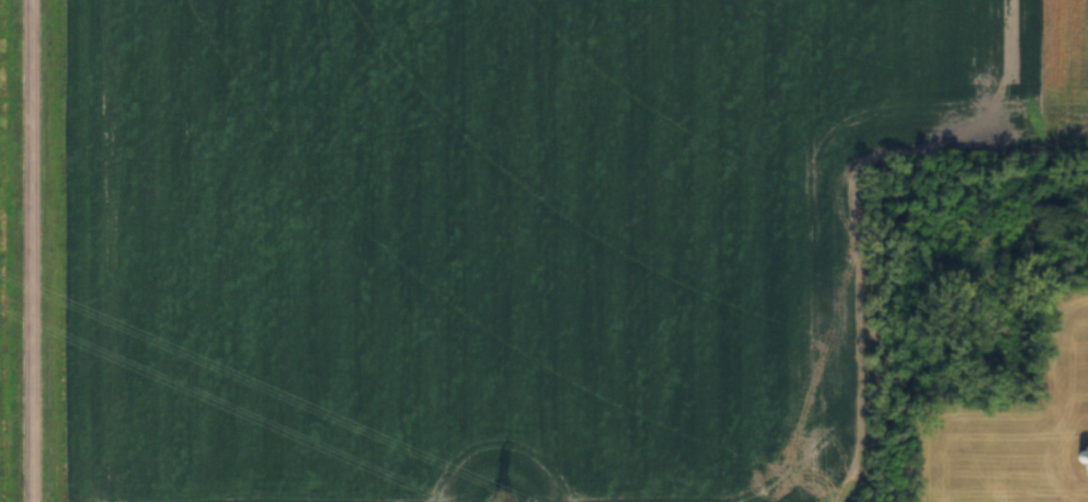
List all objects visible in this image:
crop: (492, 237)
road: (28, 251)
building: (852, 500)

